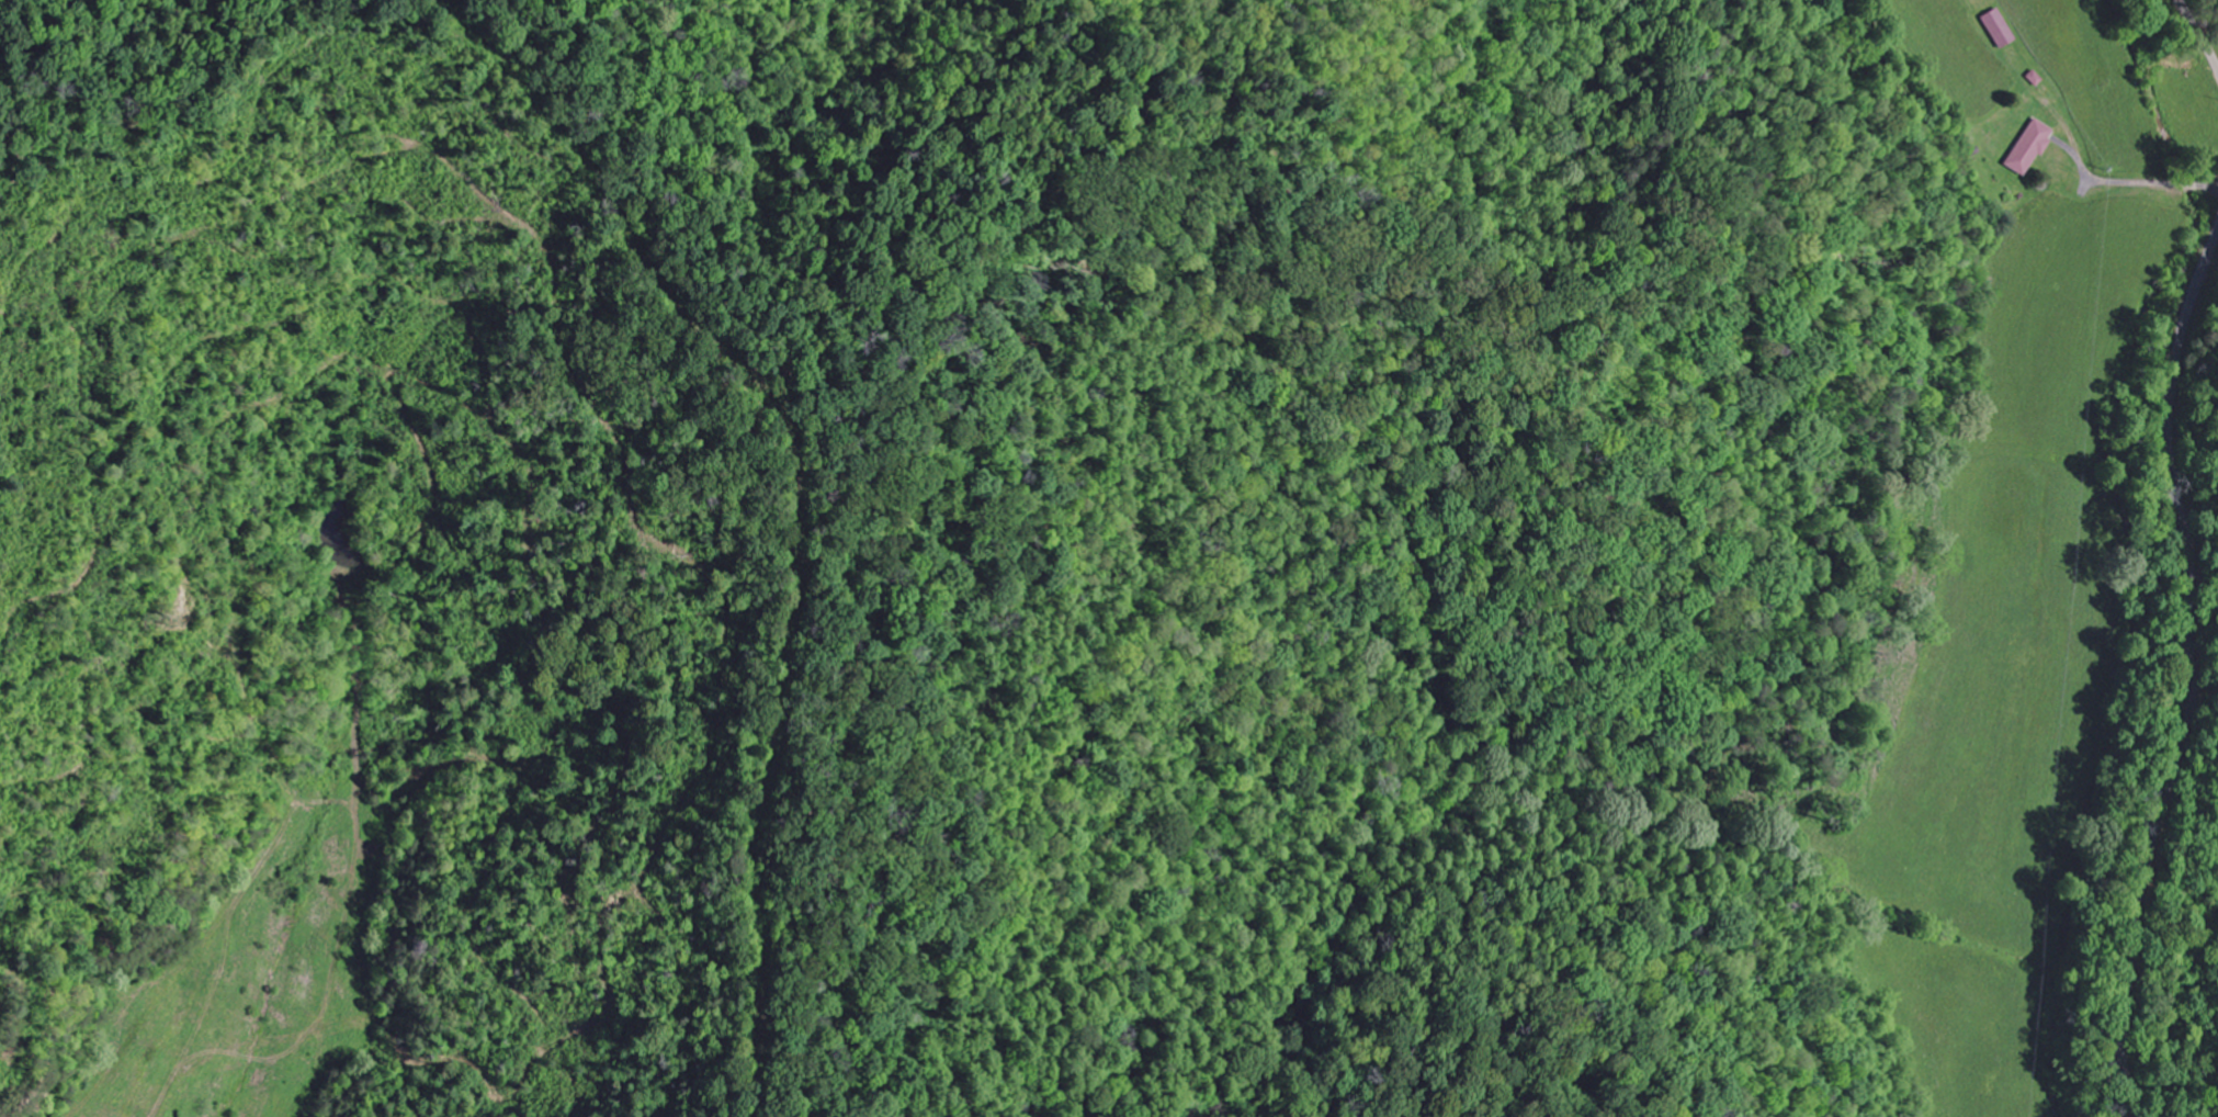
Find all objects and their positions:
building: (2002, 26)
road: (2198, 33)
building: (2039, 138)
road: (2188, 652)

